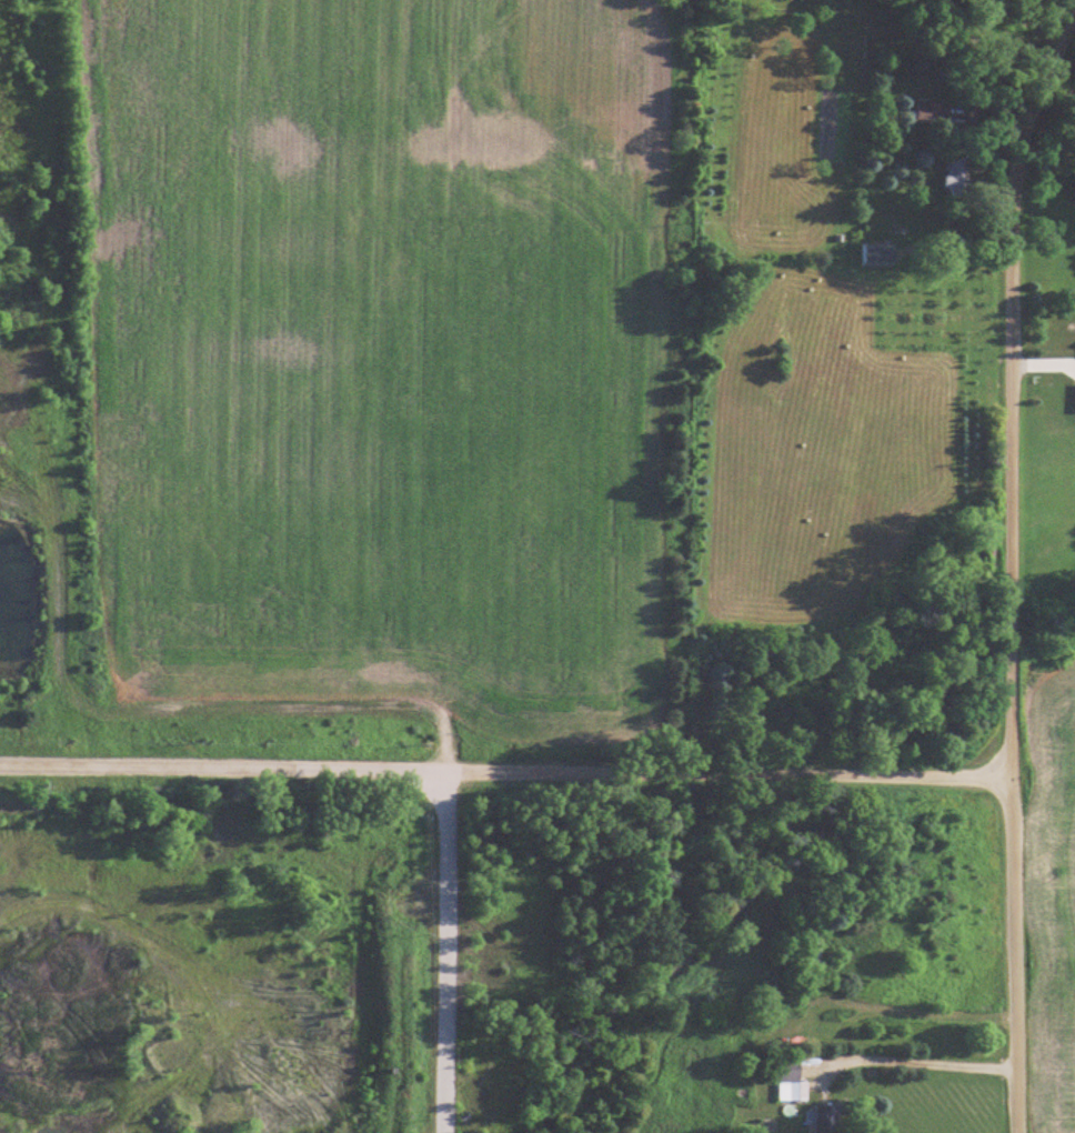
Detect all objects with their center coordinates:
building: (933, 111)
building: (958, 172)
road: (1009, 564)
road: (506, 774)
road: (449, 952)
building: (811, 956)
building: (717, 1011)
road: (920, 1060)
building: (792, 1079)
building: (828, 1117)

